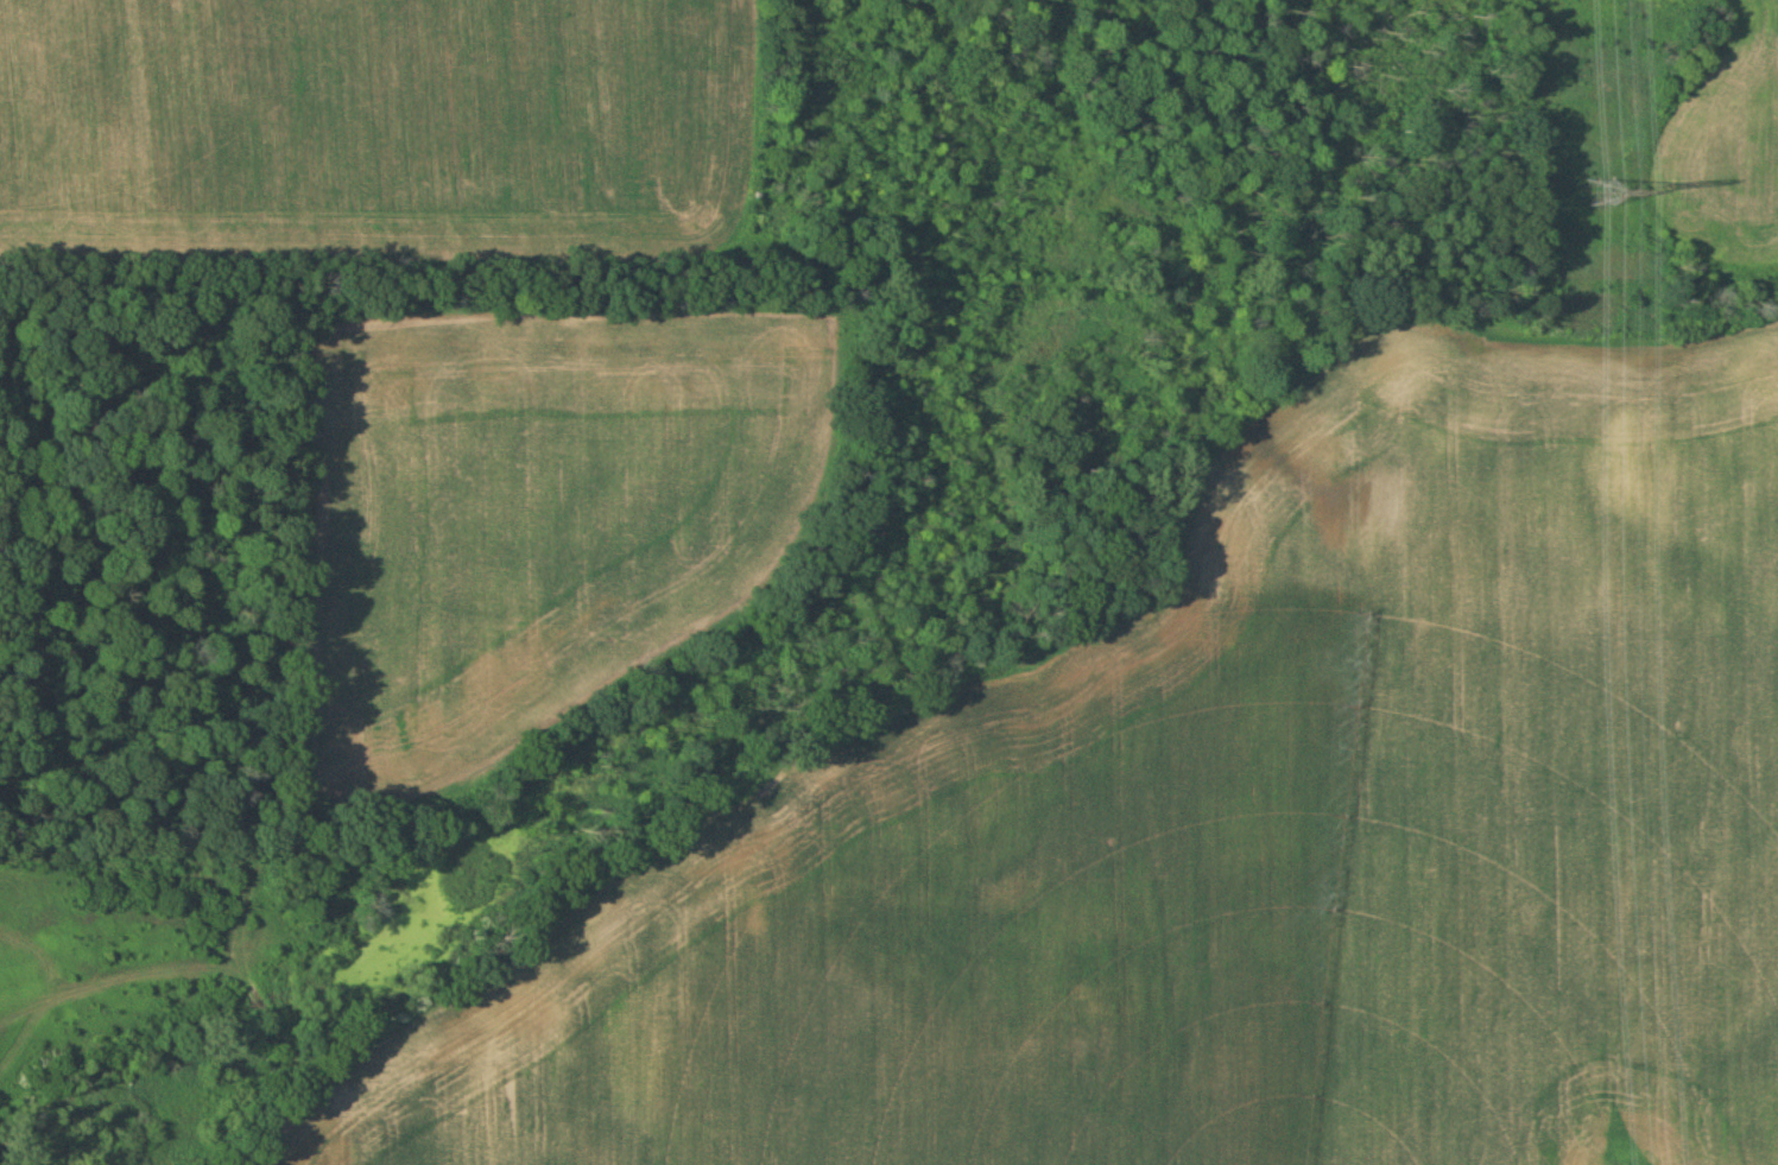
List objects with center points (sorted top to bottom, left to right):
power tower: (1600, 190)

